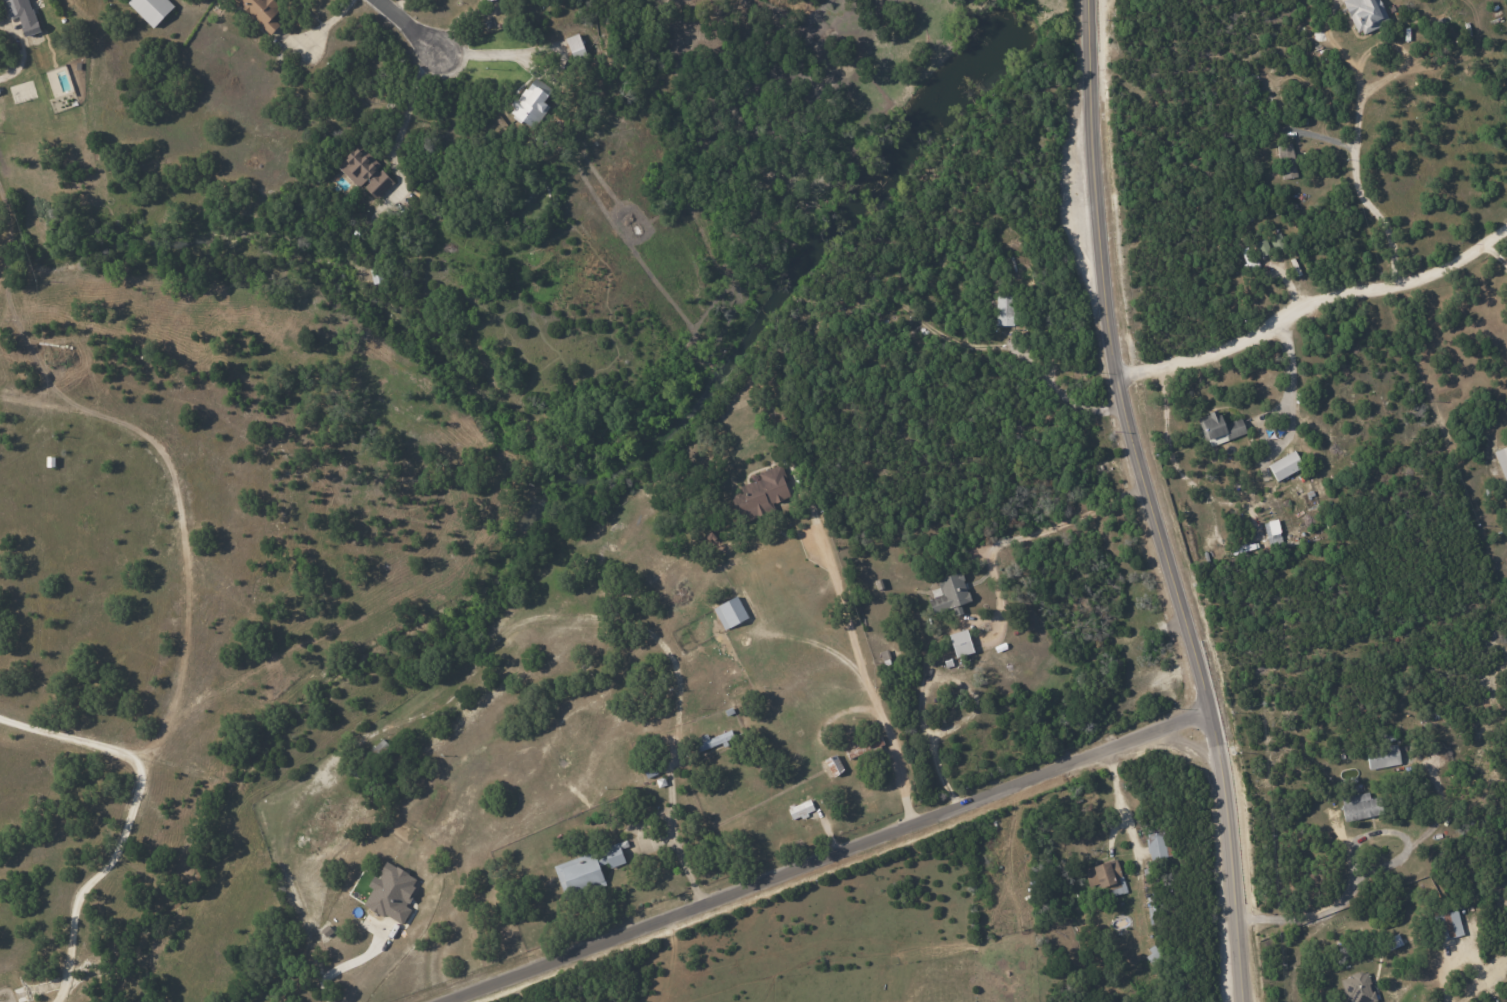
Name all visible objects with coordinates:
building: (485, 0)
building: (151, 9)
building: (261, 12)
building: (22, 14)
building: (1365, 14)
road: (408, 25)
building: (574, 45)
road: (14, 49)
road: (488, 53)
building: (530, 103)
road: (1356, 116)
road: (402, 117)
building: (1286, 160)
building: (364, 172)
building: (1276, 241)
building: (1262, 247)
road: (1497, 256)
road: (1315, 302)
building: (1004, 310)
road: (1069, 397)
building: (1219, 428)
building: (1502, 461)
building: (1284, 465)
building: (761, 493)
road: (1156, 502)
road: (1056, 524)
building: (1273, 528)
building: (949, 594)
building: (730, 612)
building: (960, 643)
road: (920, 671)
road: (868, 689)
road: (973, 699)
building: (711, 740)
building: (1382, 756)
building: (833, 764)
road: (1116, 802)
building: (1356, 806)
building: (800, 809)
road: (126, 819)
road: (673, 824)
road: (1131, 836)
building: (1156, 845)
building: (614, 853)
road: (831, 860)
building: (580, 873)
building: (1105, 877)
building: (390, 893)
road: (1333, 907)
building: (1447, 924)
road: (665, 958)
road: (355, 969)
road: (1441, 975)
building: (1356, 988)

